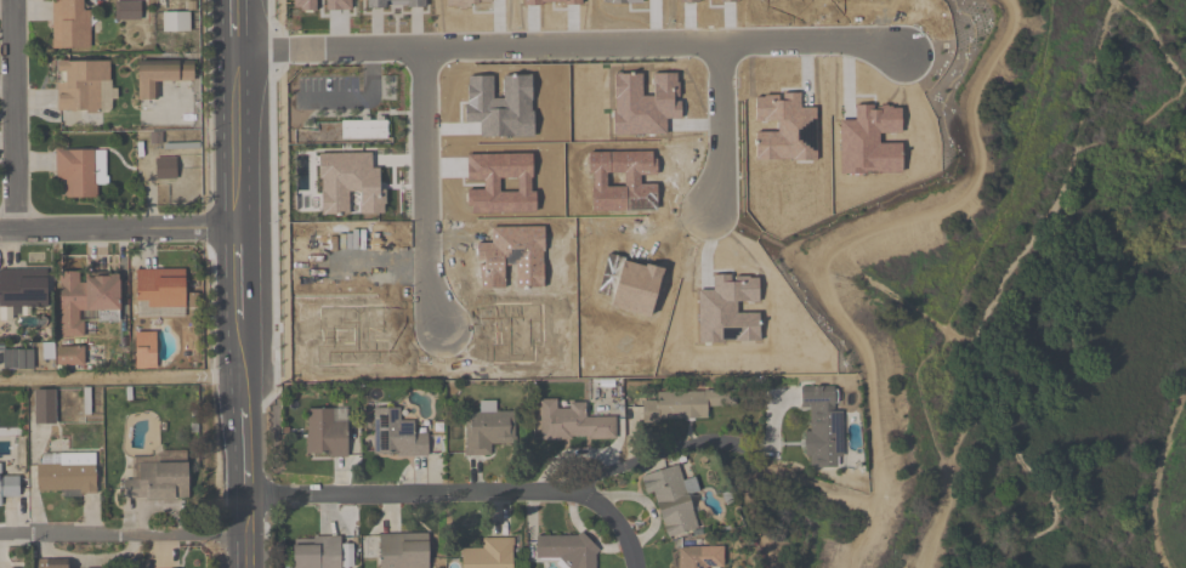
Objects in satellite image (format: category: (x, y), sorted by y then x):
building: (399, 0)
building: (847, 2)
building: (127, 11)
building: (175, 23)
building: (70, 24)
road: (1152, 32)
road: (571, 47)
building: (688, 52)
building: (430, 58)
building: (517, 63)
building: (161, 76)
building: (85, 86)
road: (239, 114)
road: (16, 115)
building: (864, 117)
road: (717, 132)
building: (561, 166)
building: (165, 169)
building: (81, 172)
road: (1061, 189)
road: (427, 192)
road: (120, 229)
building: (467, 248)
building: (344, 249)
road: (242, 271)
building: (23, 289)
building: (572, 292)
building: (160, 294)
building: (754, 295)
building: (86, 301)
park: (1010, 311)
road: (830, 312)
building: (69, 356)
building: (18, 359)
road: (982, 377)
road: (121, 381)
building: (45, 407)
building: (681, 408)
building: (573, 422)
building: (822, 430)
building: (327, 432)
building: (487, 432)
building: (396, 436)
road: (244, 439)
road: (656, 455)
building: (67, 475)
road: (1158, 479)
building: (157, 482)
building: (8, 487)
road: (459, 496)
building: (673, 501)
road: (121, 533)
building: (567, 550)
building: (403, 551)
building: (317, 552)
building: (489, 555)
building: (699, 558)
building: (51, 563)

